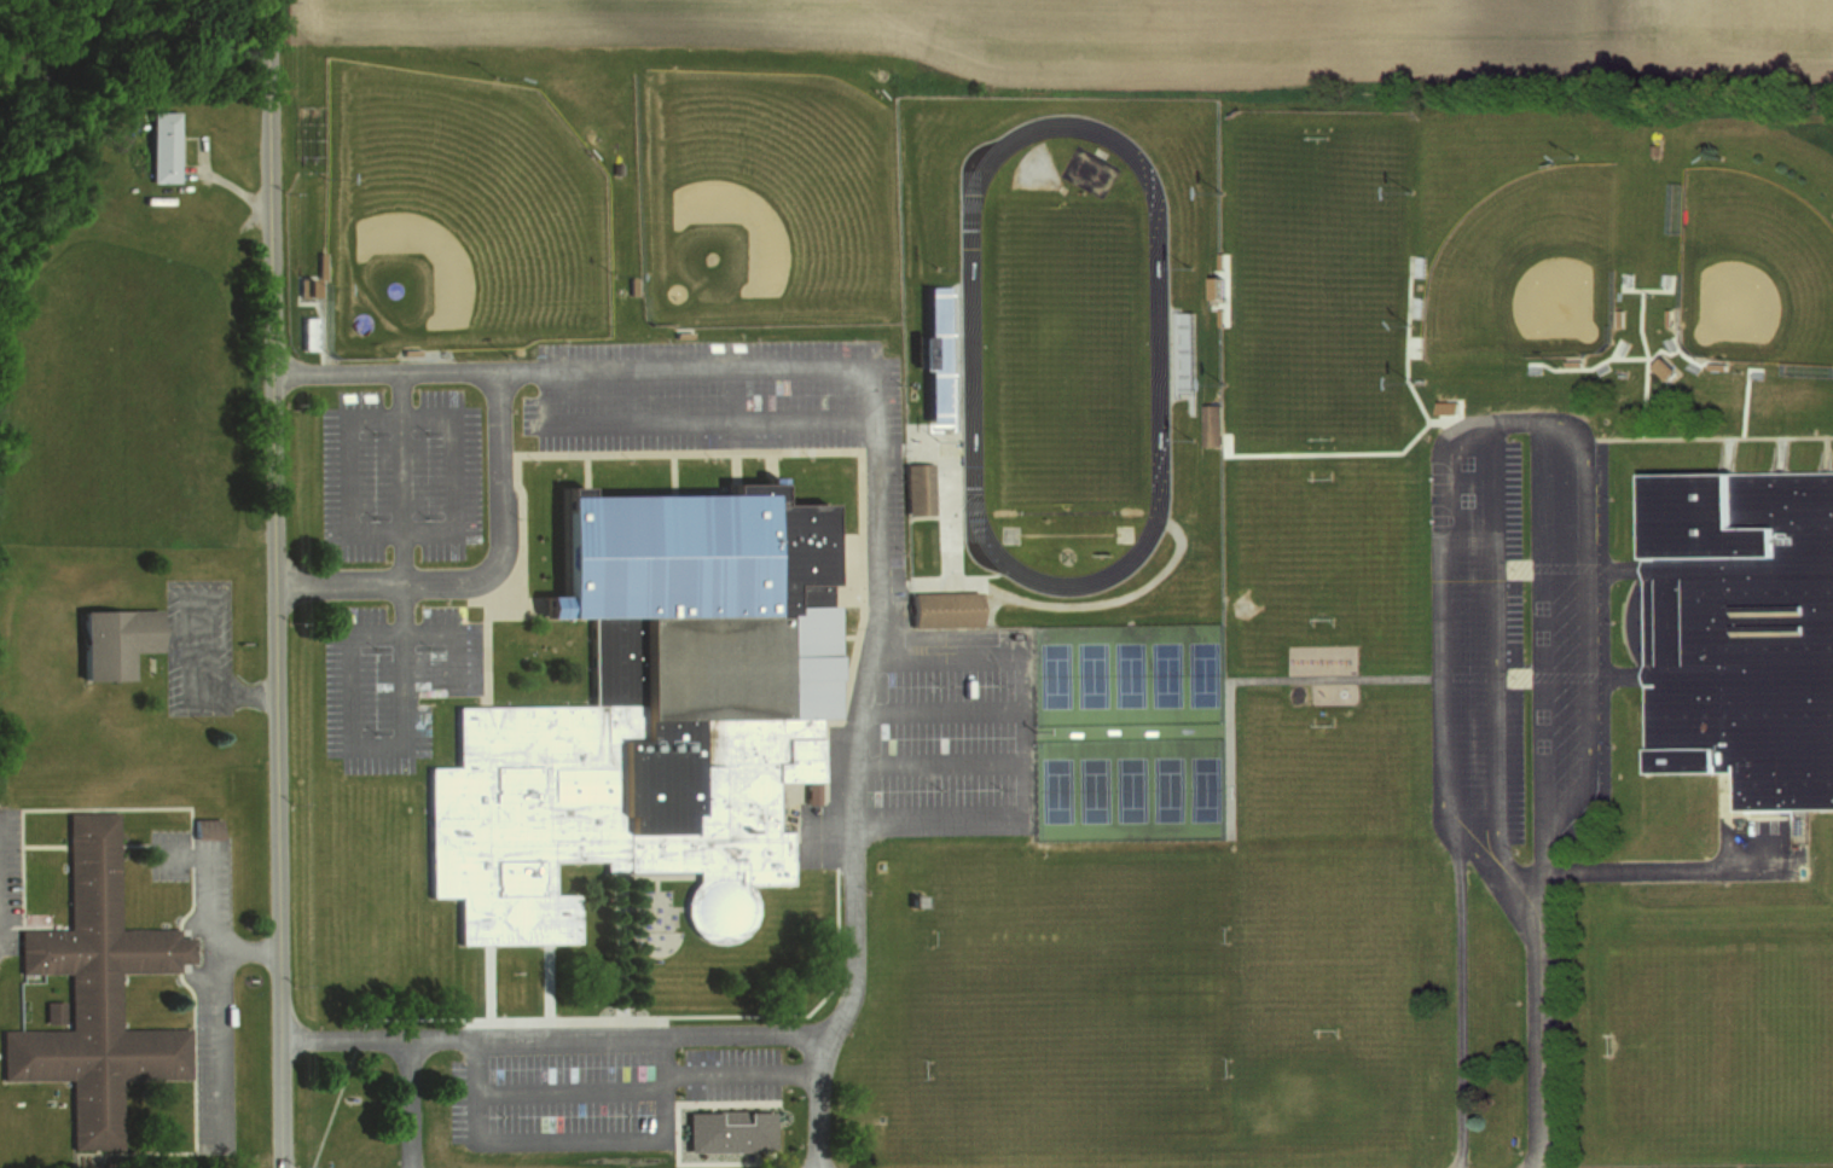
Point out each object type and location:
crop: (1203, 41)
building: (159, 147)
building: (1654, 147)
building: (616, 165)
park: (761, 202)
park: (459, 215)
building: (1217, 258)
park: (1526, 262)
building: (318, 263)
park: (1753, 267)
building: (1625, 277)
building: (1665, 278)
building: (628, 284)
building: (302, 286)
building: (1212, 286)
road: (1643, 289)
building: (1666, 314)
building: (1617, 315)
building: (1218, 316)
building: (307, 331)
building: (679, 332)
building: (1667, 341)
road: (1675, 343)
building: (1620, 345)
road: (1612, 347)
building: (1184, 348)
building: (408, 349)
building: (932, 350)
park: (1063, 354)
track: (1159, 356)
road: (1602, 358)
building: (1570, 359)
road: (1645, 361)
building: (1715, 364)
building: (1601, 365)
road: (737, 366)
building: (1661, 366)
building: (1532, 367)
building: (1689, 367)
building: (1753, 371)
road: (384, 372)
road: (732, 394)
road: (1742, 401)
parking lot: (729, 403)
road: (1443, 418)
road: (1506, 420)
road: (660, 422)
building: (1208, 422)
road: (952, 430)
road: (1709, 435)
road: (1406, 440)
road: (1823, 452)
road: (1725, 453)
road: (1776, 453)
road: (857, 455)
road: (770, 460)
road: (731, 466)
road: (669, 471)
road: (582, 472)
parking lot: (400, 473)
building: (915, 486)
road: (391, 533)
road: (404, 559)
road: (482, 574)
road: (503, 579)
road: (273, 583)
road: (1049, 602)
building: (940, 605)
building: (1739, 629)
road: (842, 634)
road: (346, 641)
building: (115, 643)
parking lot: (1516, 646)
road: (940, 655)
park: (1167, 674)
road: (1255, 674)
park: (1054, 675)
park: (1092, 675)
park: (1130, 675)
park: (1203, 675)
parking lot: (390, 680)
road: (837, 686)
road: (204, 695)
road: (936, 708)
building: (645, 716)
parking lot: (951, 736)
road: (936, 762)
park: (1054, 786)
park: (1165, 786)
park: (1201, 786)
park: (1090, 788)
park: (1126, 788)
road: (938, 814)
road: (1677, 867)
road: (616, 942)
road: (248, 947)
road: (486, 980)
road: (544, 980)
road: (213, 983)
building: (93, 992)
road: (847, 999)
road: (1462, 1003)
road: (587, 1016)
road: (1539, 1042)
parking lot: (727, 1071)
road: (742, 1074)
road: (565, 1092)
parking lot: (559, 1098)
road: (410, 1102)
road: (819, 1104)
building: (726, 1128)
road: (569, 1137)

